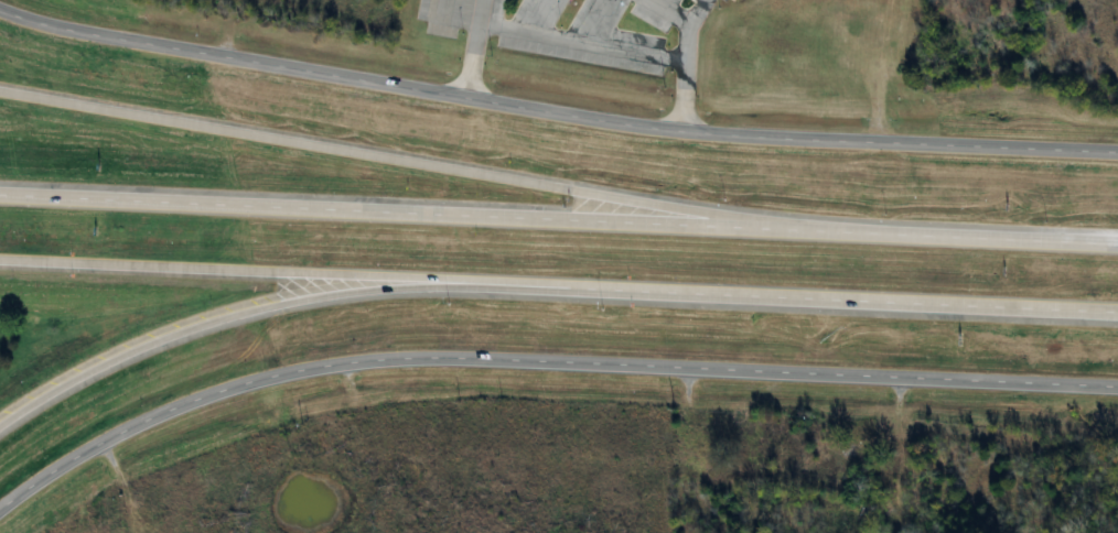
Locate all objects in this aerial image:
road: (479, 9)
road: (30, 18)
road: (685, 24)
road: (581, 33)
road: (585, 117)
road: (394, 161)
road: (394, 213)
road: (953, 237)
road: (287, 272)
road: (846, 300)
road: (273, 307)
road: (541, 361)
building: (767, 458)

